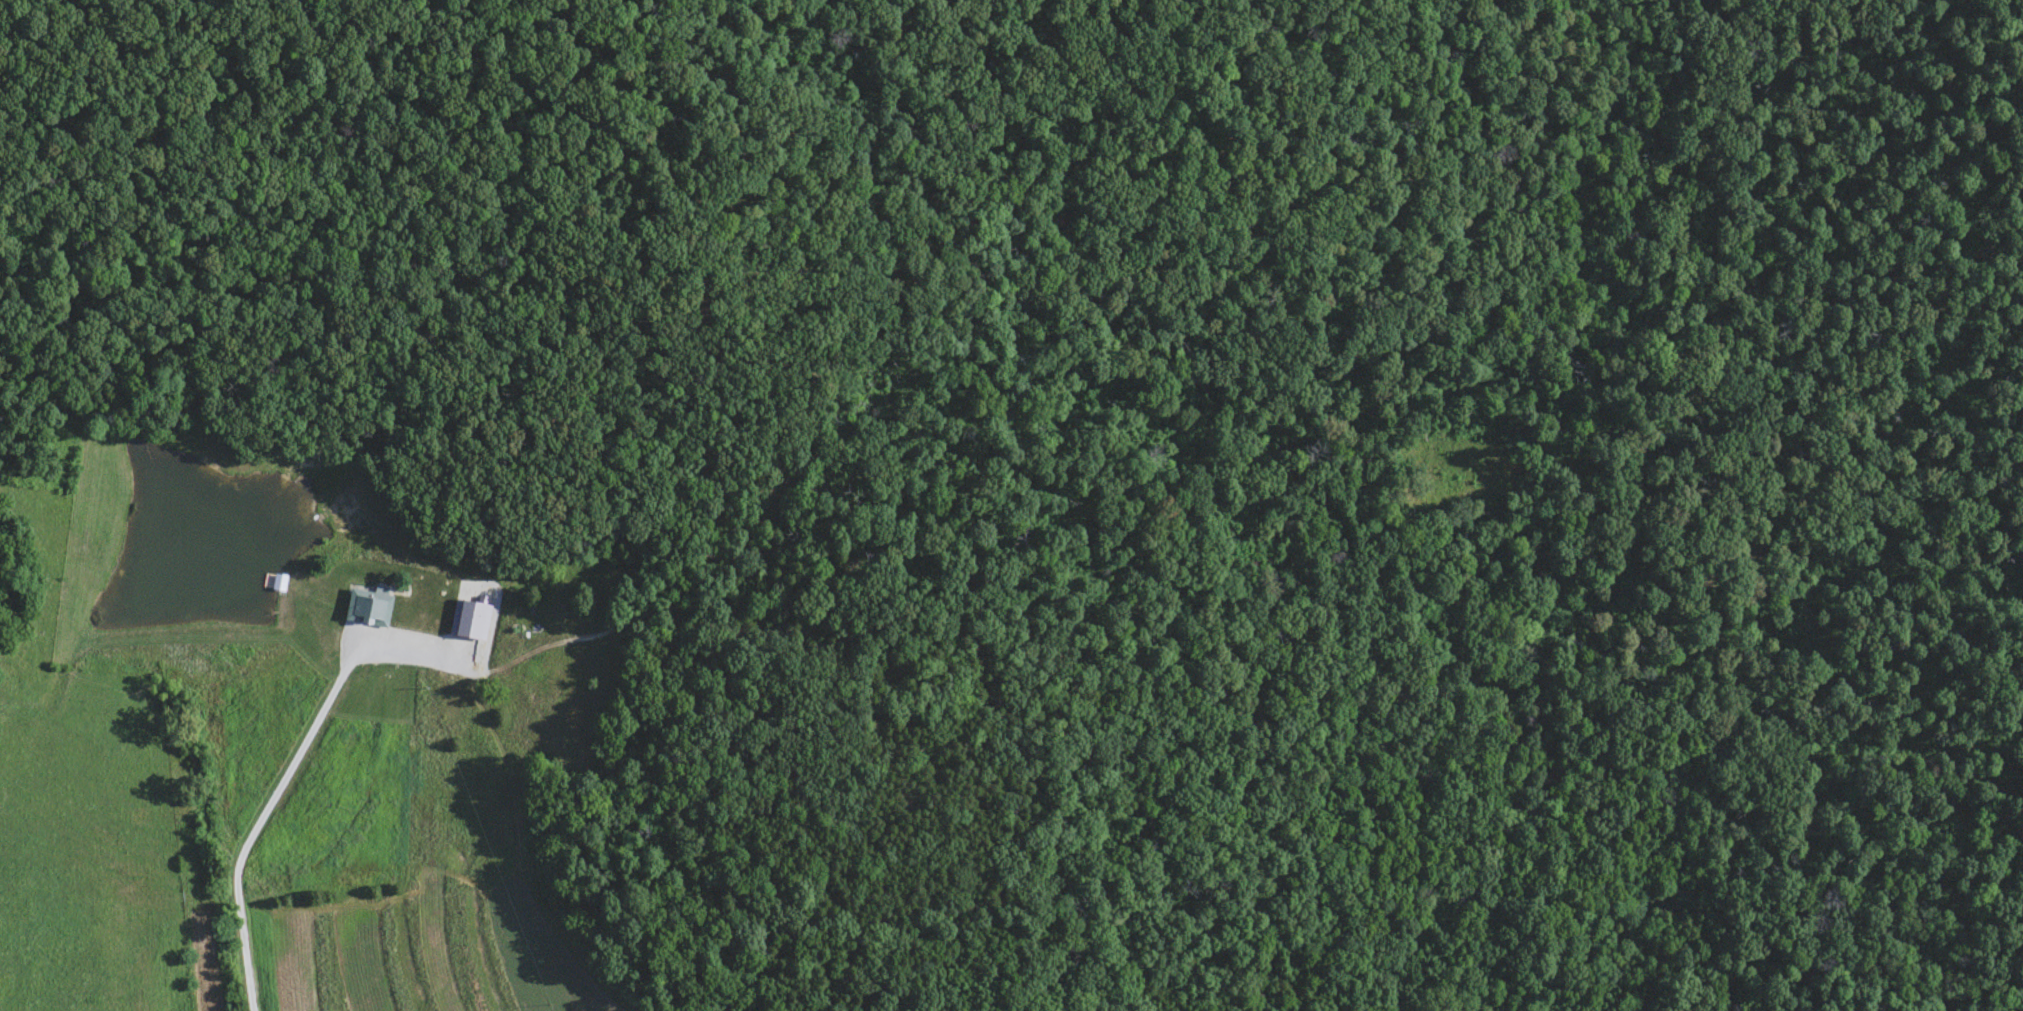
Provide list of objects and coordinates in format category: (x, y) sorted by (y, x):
building: (277, 581)
building: (363, 603)
road: (283, 782)

